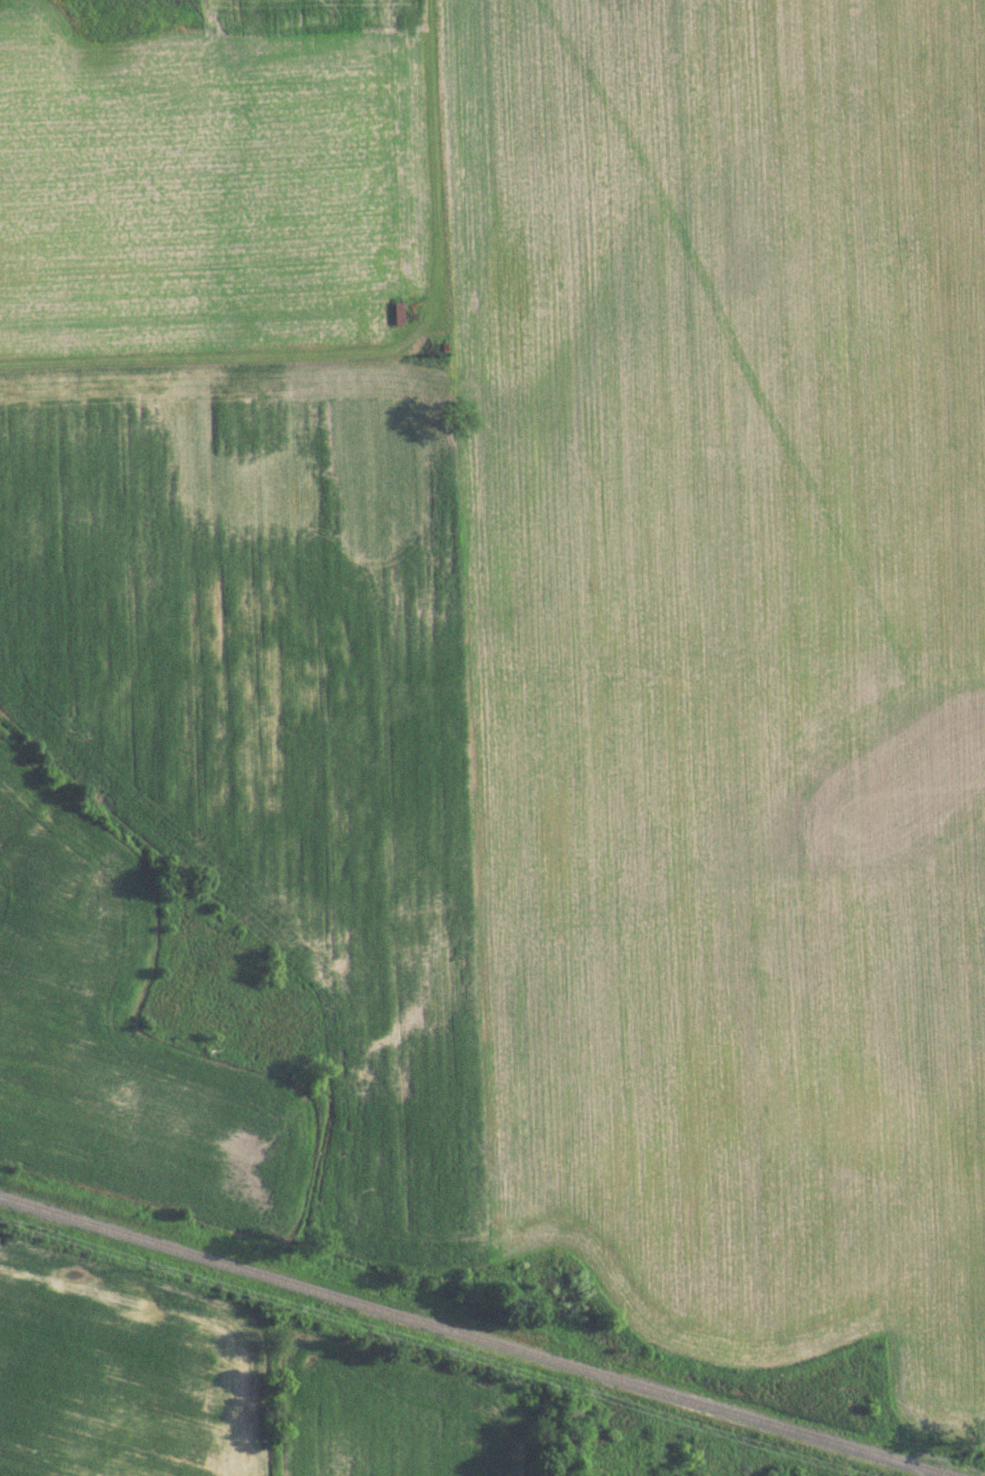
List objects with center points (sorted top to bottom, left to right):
building: (395, 313)
railway: (478, 1336)

